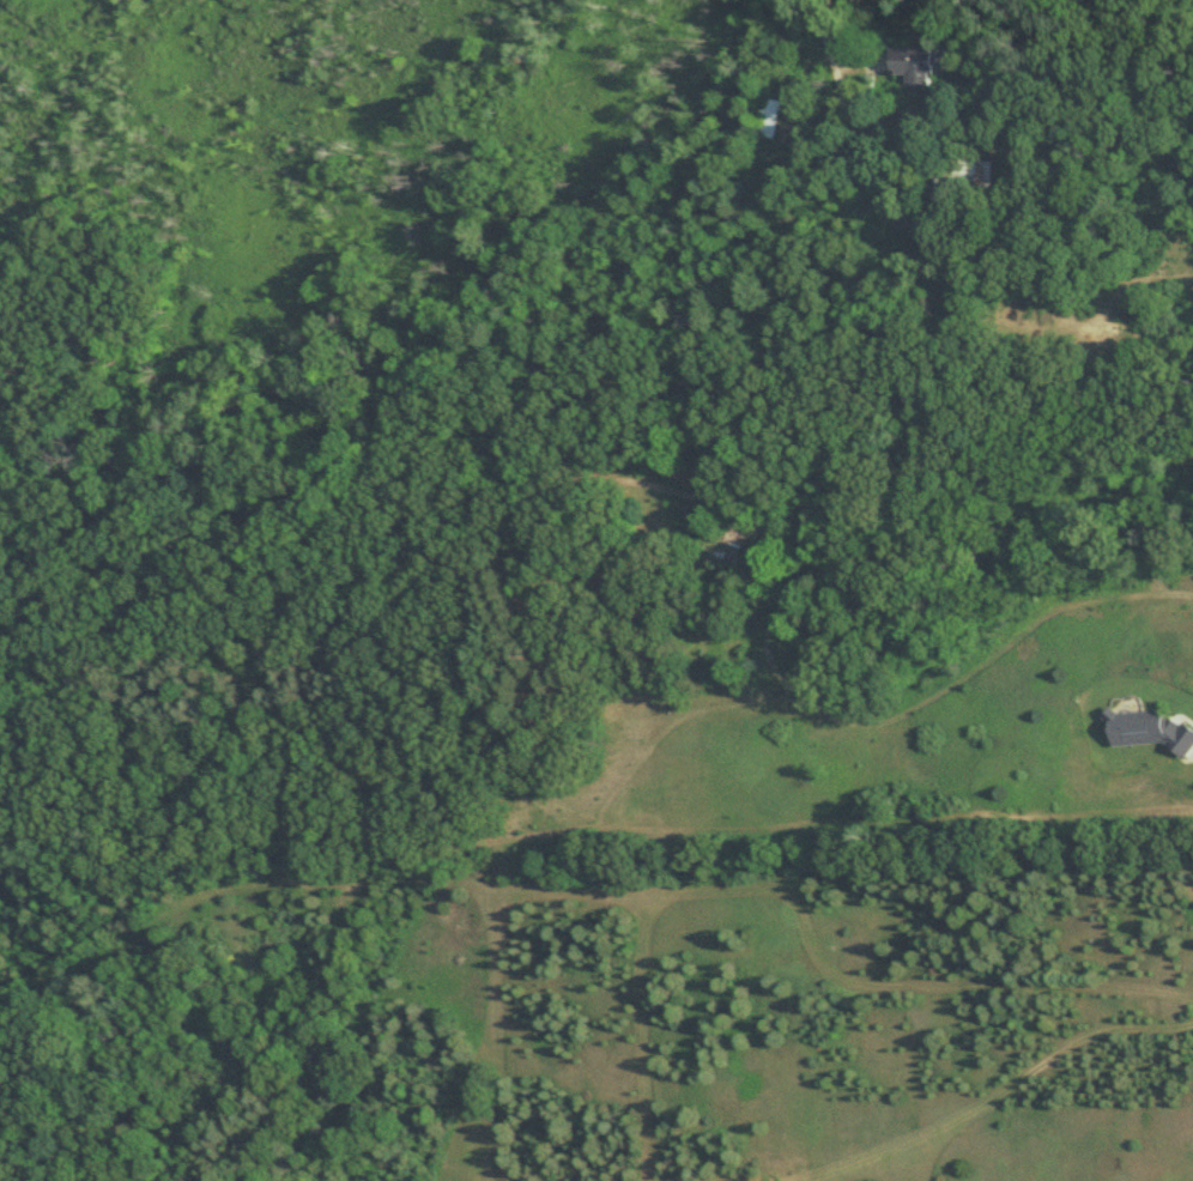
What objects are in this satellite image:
road: (958, 14)
building: (919, 65)
building: (769, 117)
building: (962, 172)
building: (250, 464)

